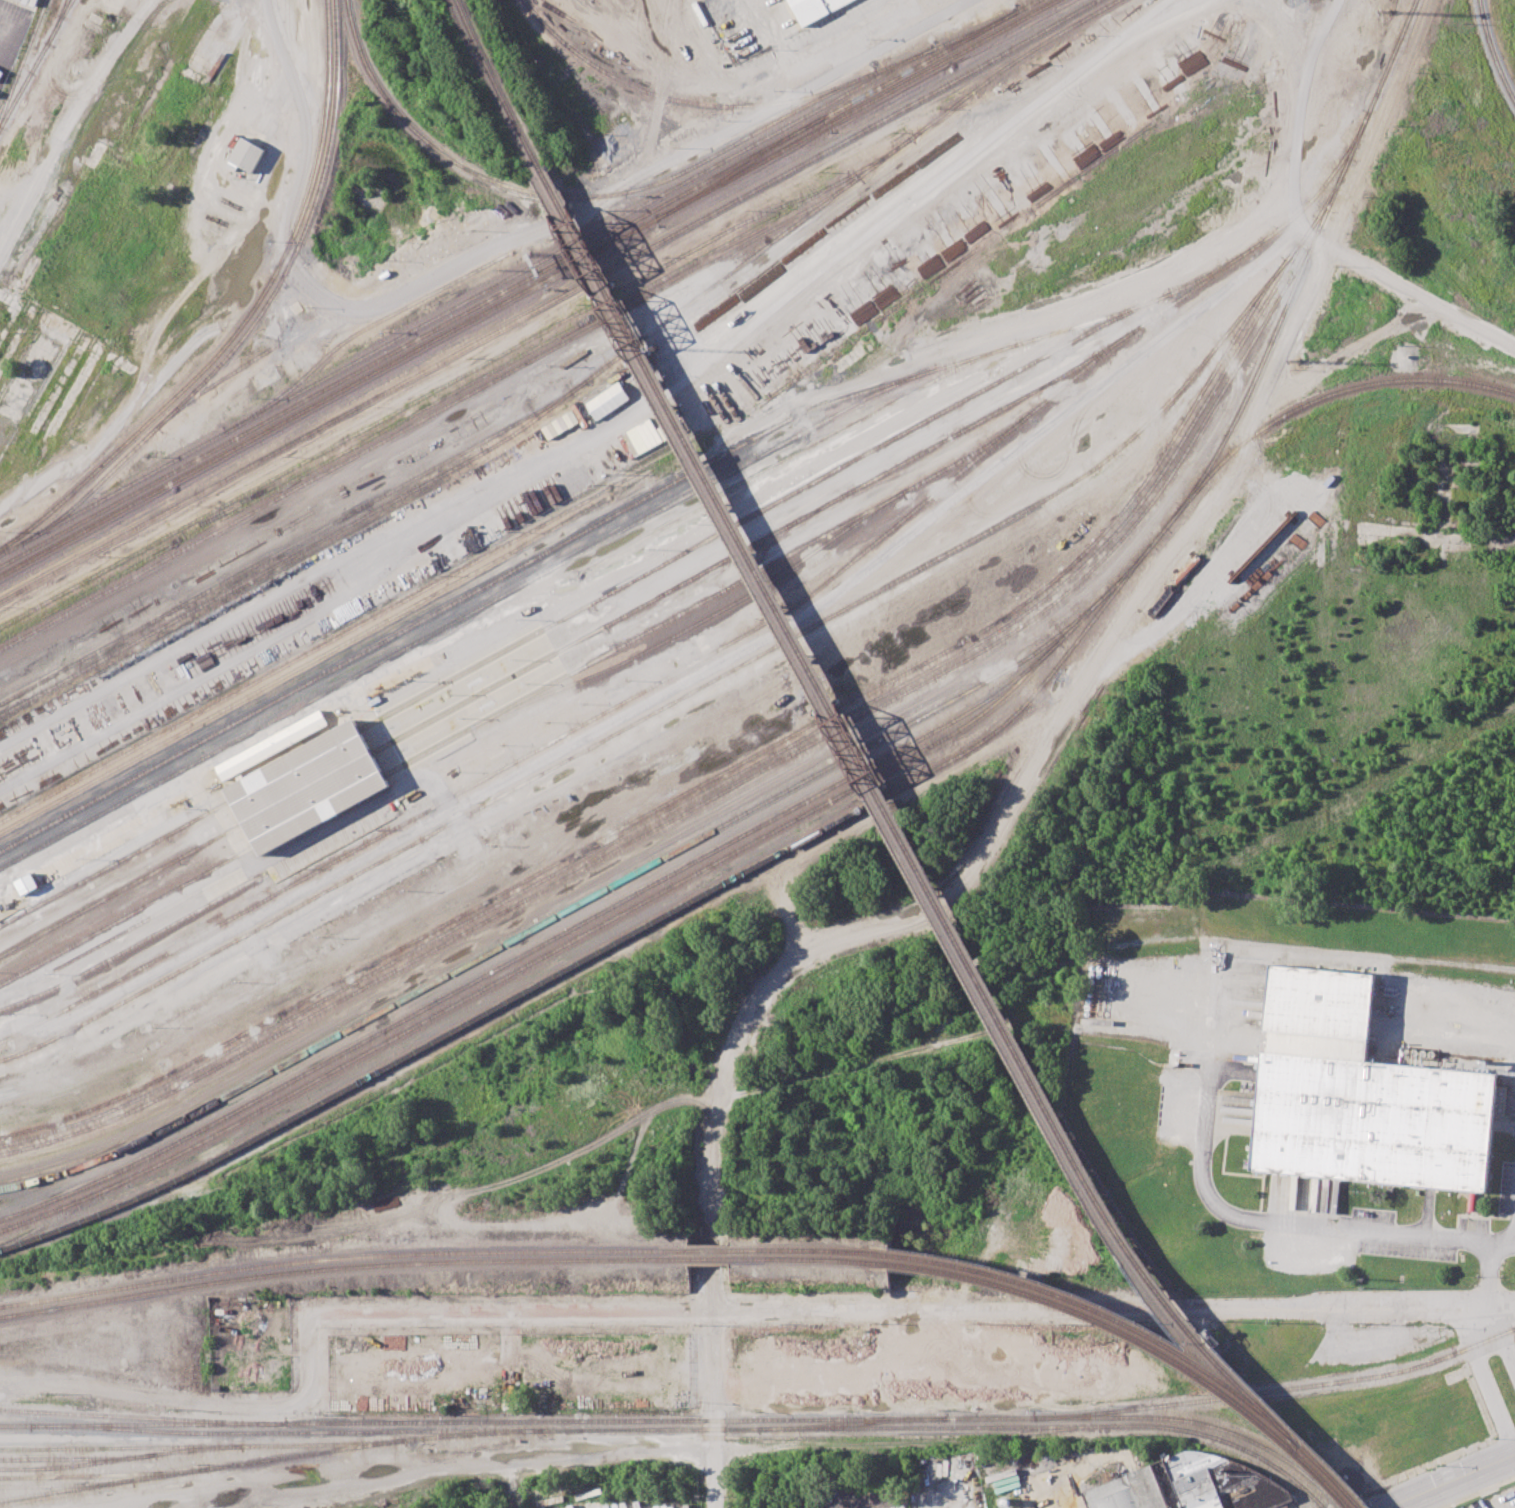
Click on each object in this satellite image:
building: (816, 9)
railway: (58, 20)
railway: (946, 43)
railway: (1493, 52)
railway: (23, 59)
railway: (35, 63)
railway: (988, 80)
railway: (498, 87)
railway: (685, 100)
road: (74, 121)
road: (314, 123)
building: (247, 154)
railway: (742, 167)
railway: (575, 196)
road: (1305, 229)
road: (475, 258)
railway: (519, 283)
railway: (529, 288)
road: (325, 296)
railway: (466, 301)
railway: (549, 302)
railway: (260, 313)
railway: (245, 319)
railway: (667, 321)
railway: (358, 332)
railway: (505, 363)
railway: (213, 385)
railway: (1322, 397)
building: (607, 400)
railway: (416, 401)
railway: (868, 416)
railway: (423, 419)
road: (1019, 451)
railway: (898, 465)
railway: (801, 489)
railway: (591, 498)
railway: (290, 546)
railway: (528, 561)
railway: (767, 567)
railway: (231, 589)
railway: (507, 593)
railway: (60, 606)
railway: (703, 621)
railway: (355, 638)
railway: (328, 662)
railway: (669, 703)
building: (271, 745)
railway: (528, 755)
railway: (766, 758)
railway: (732, 766)
railway: (739, 782)
building: (303, 788)
railway: (877, 798)
railway: (896, 828)
railway: (9, 864)
railway: (113, 864)
building: (25, 884)
railway: (117, 893)
railway: (594, 897)
railway: (126, 917)
railway: (148, 919)
railway: (565, 932)
railway: (136, 945)
railway: (538, 959)
road: (792, 964)
building: (1357, 1096)
building: (1499, 1101)
road: (1288, 1224)
railway: (812, 1249)
railway: (709, 1250)
railway: (341, 1258)
railway: (707, 1259)
railway: (809, 1259)
railway: (340, 1267)
road: (1490, 1276)
road: (909, 1310)
railway: (1112, 1317)
road: (1502, 1336)
railway: (1143, 1342)
road: (509, 1349)
road: (306, 1356)
road: (1487, 1378)
railway: (1278, 1389)
road: (713, 1410)
railway: (140, 1417)
railway: (658, 1420)
railway: (852, 1423)
railway: (1199, 1423)
railway: (157, 1424)
railway: (16, 1425)
railway: (568, 1429)
railway: (901, 1437)
railway: (1222, 1441)
railway: (202, 1446)
railway: (72, 1458)
railway: (115, 1459)
railway: (269, 1459)
street lamp: (1437, 1466)
railway: (98, 1474)
railway: (1333, 1477)
road: (1452, 1481)
building: (1220, 1483)
railway: (65, 1485)
building: (1127, 1492)
road: (514, 1494)
road: (1073, 1498)

